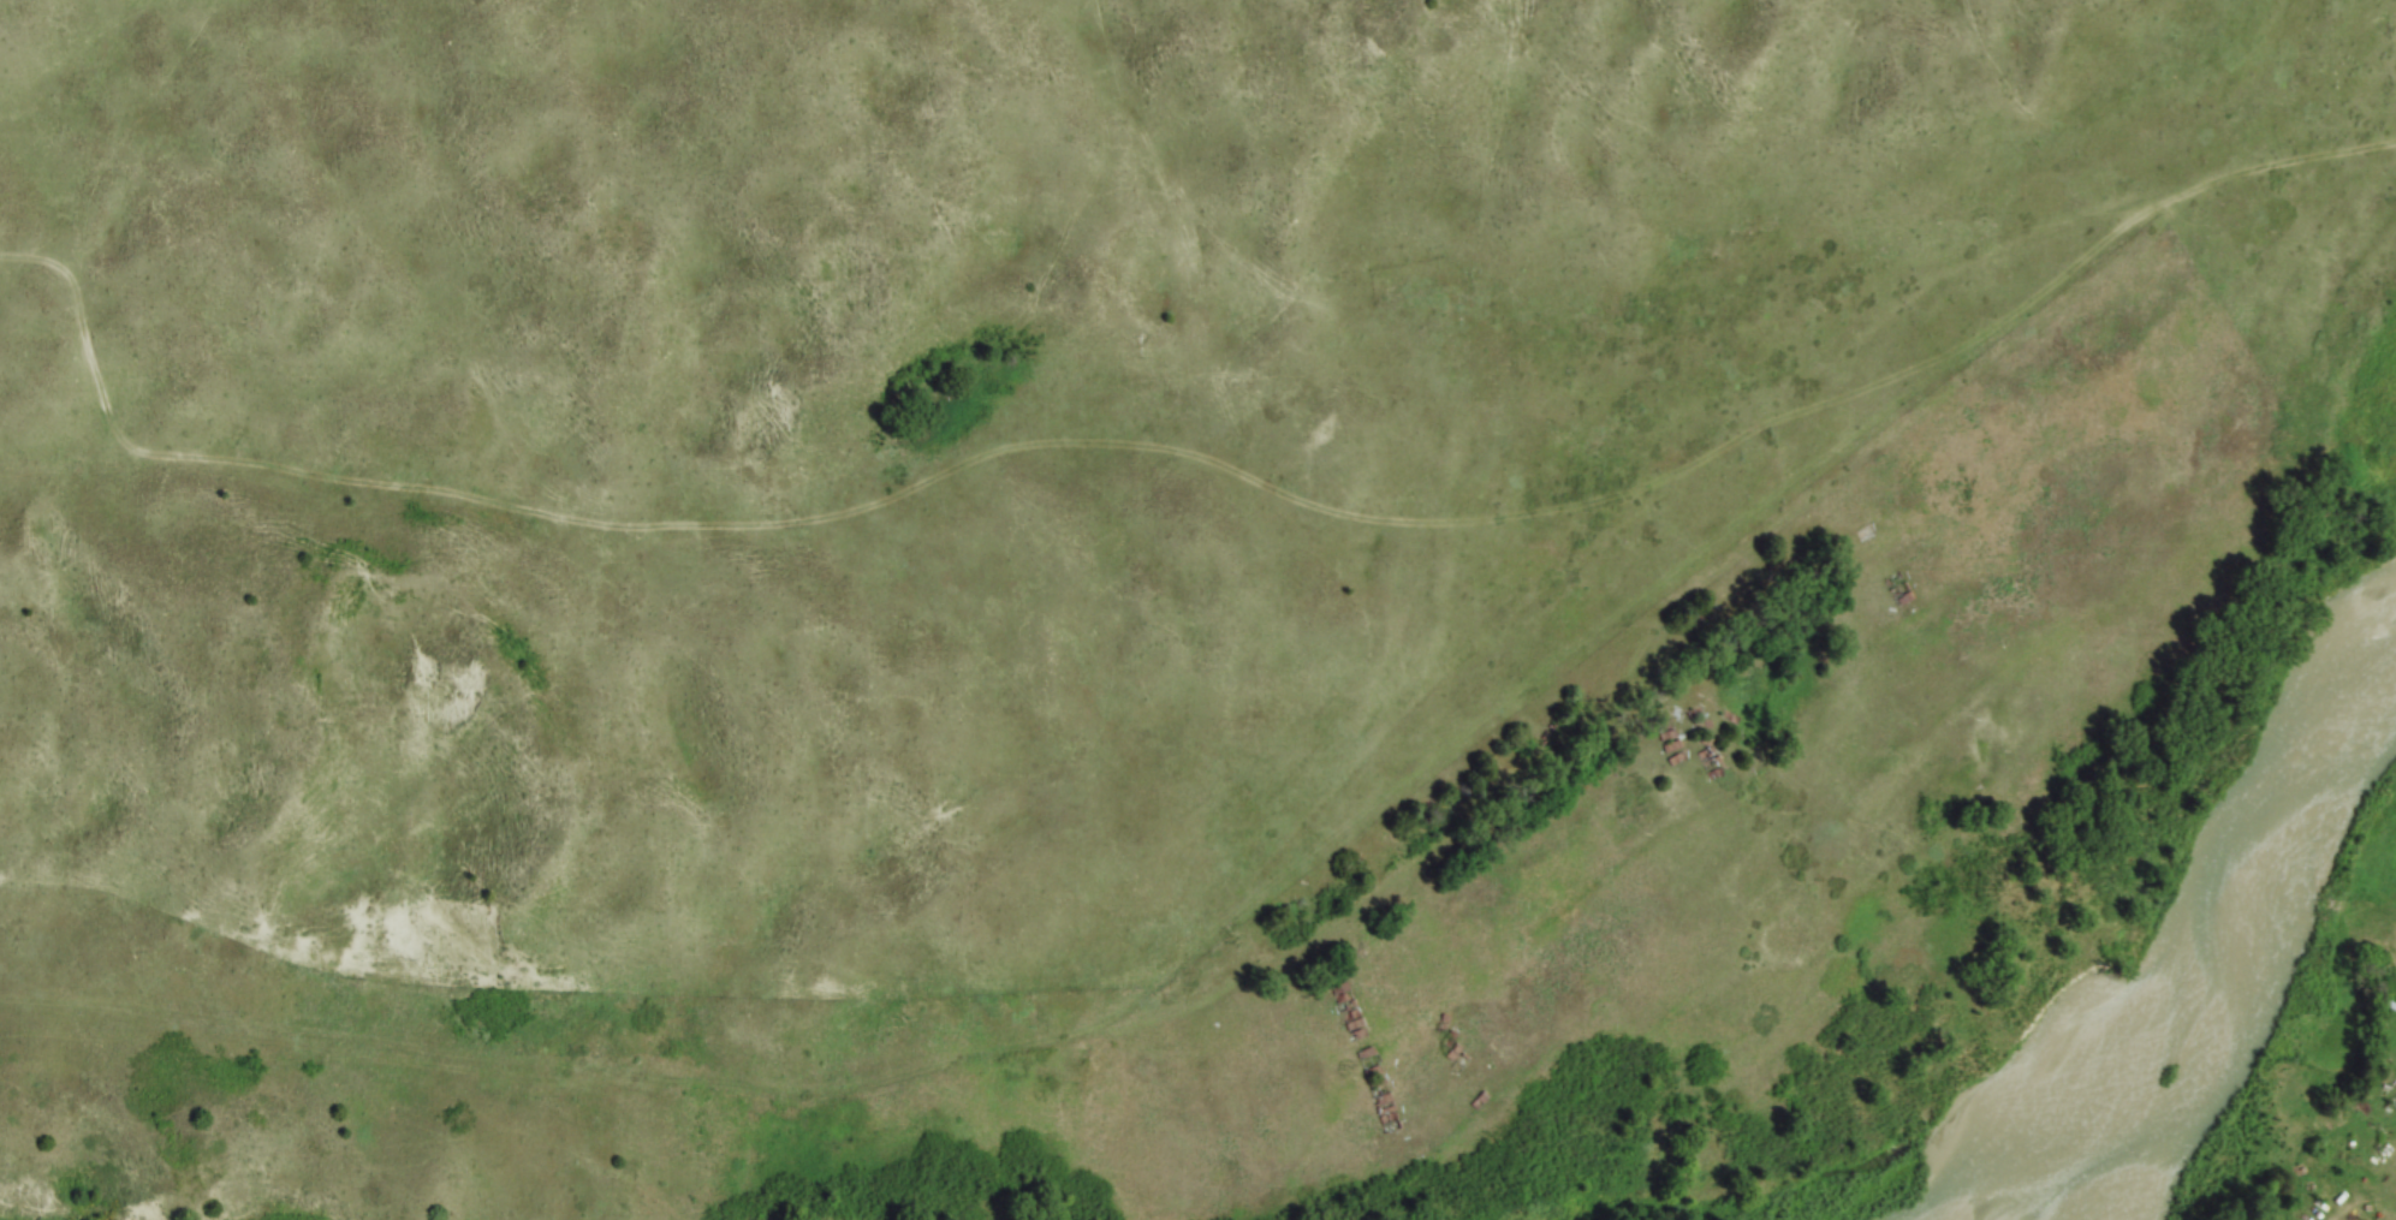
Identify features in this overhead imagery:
river: (2206, 954)

